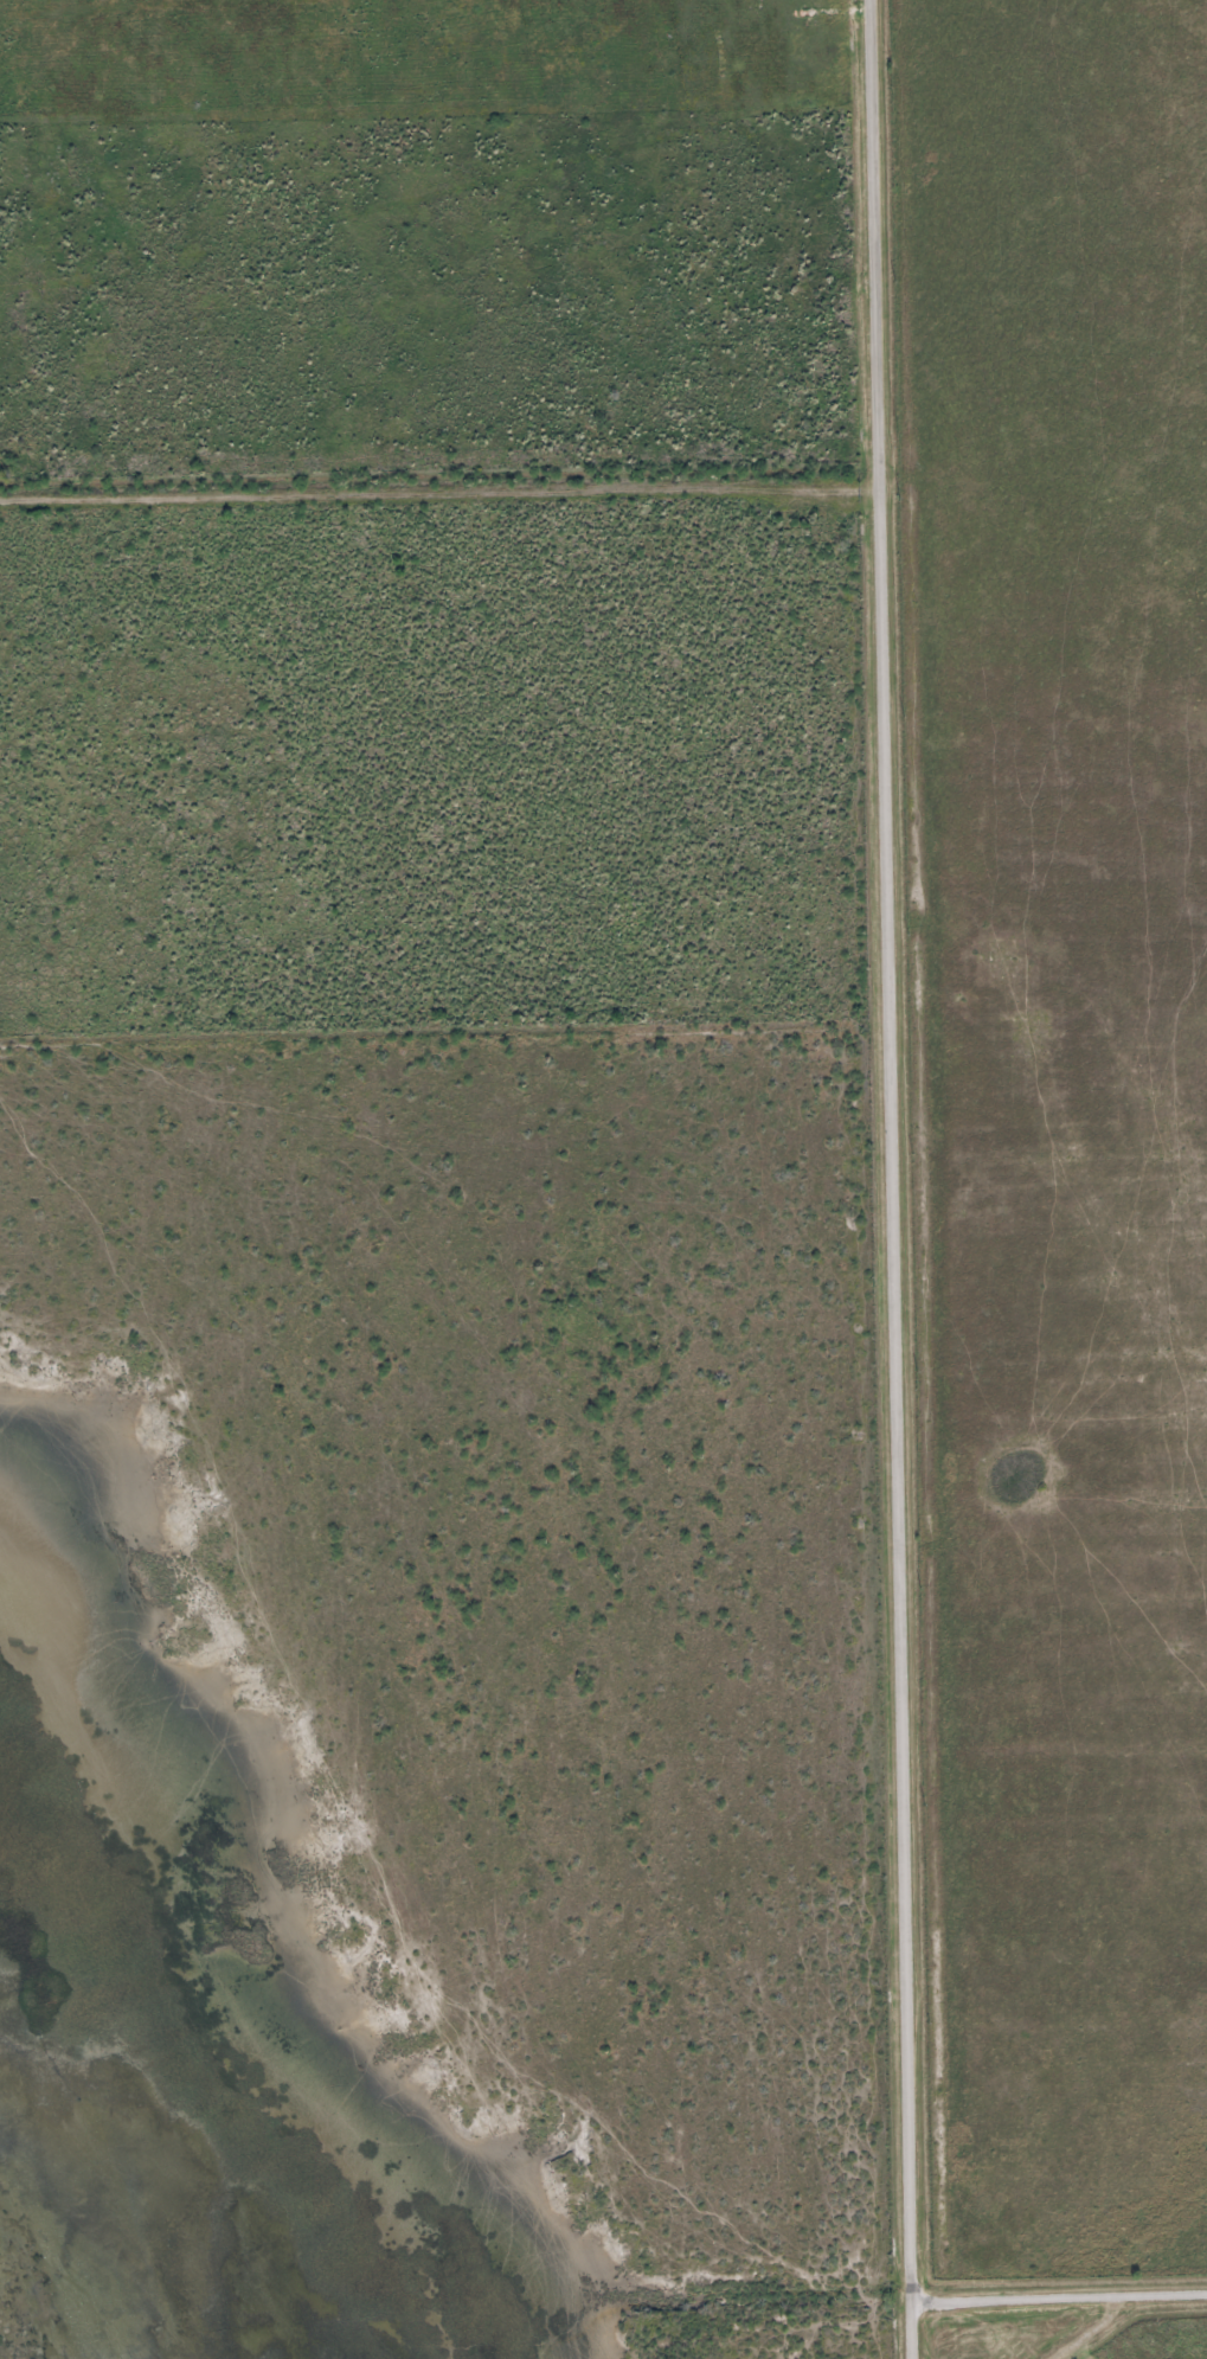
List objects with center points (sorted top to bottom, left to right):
road: (897, 1179)
road: (1059, 2306)

